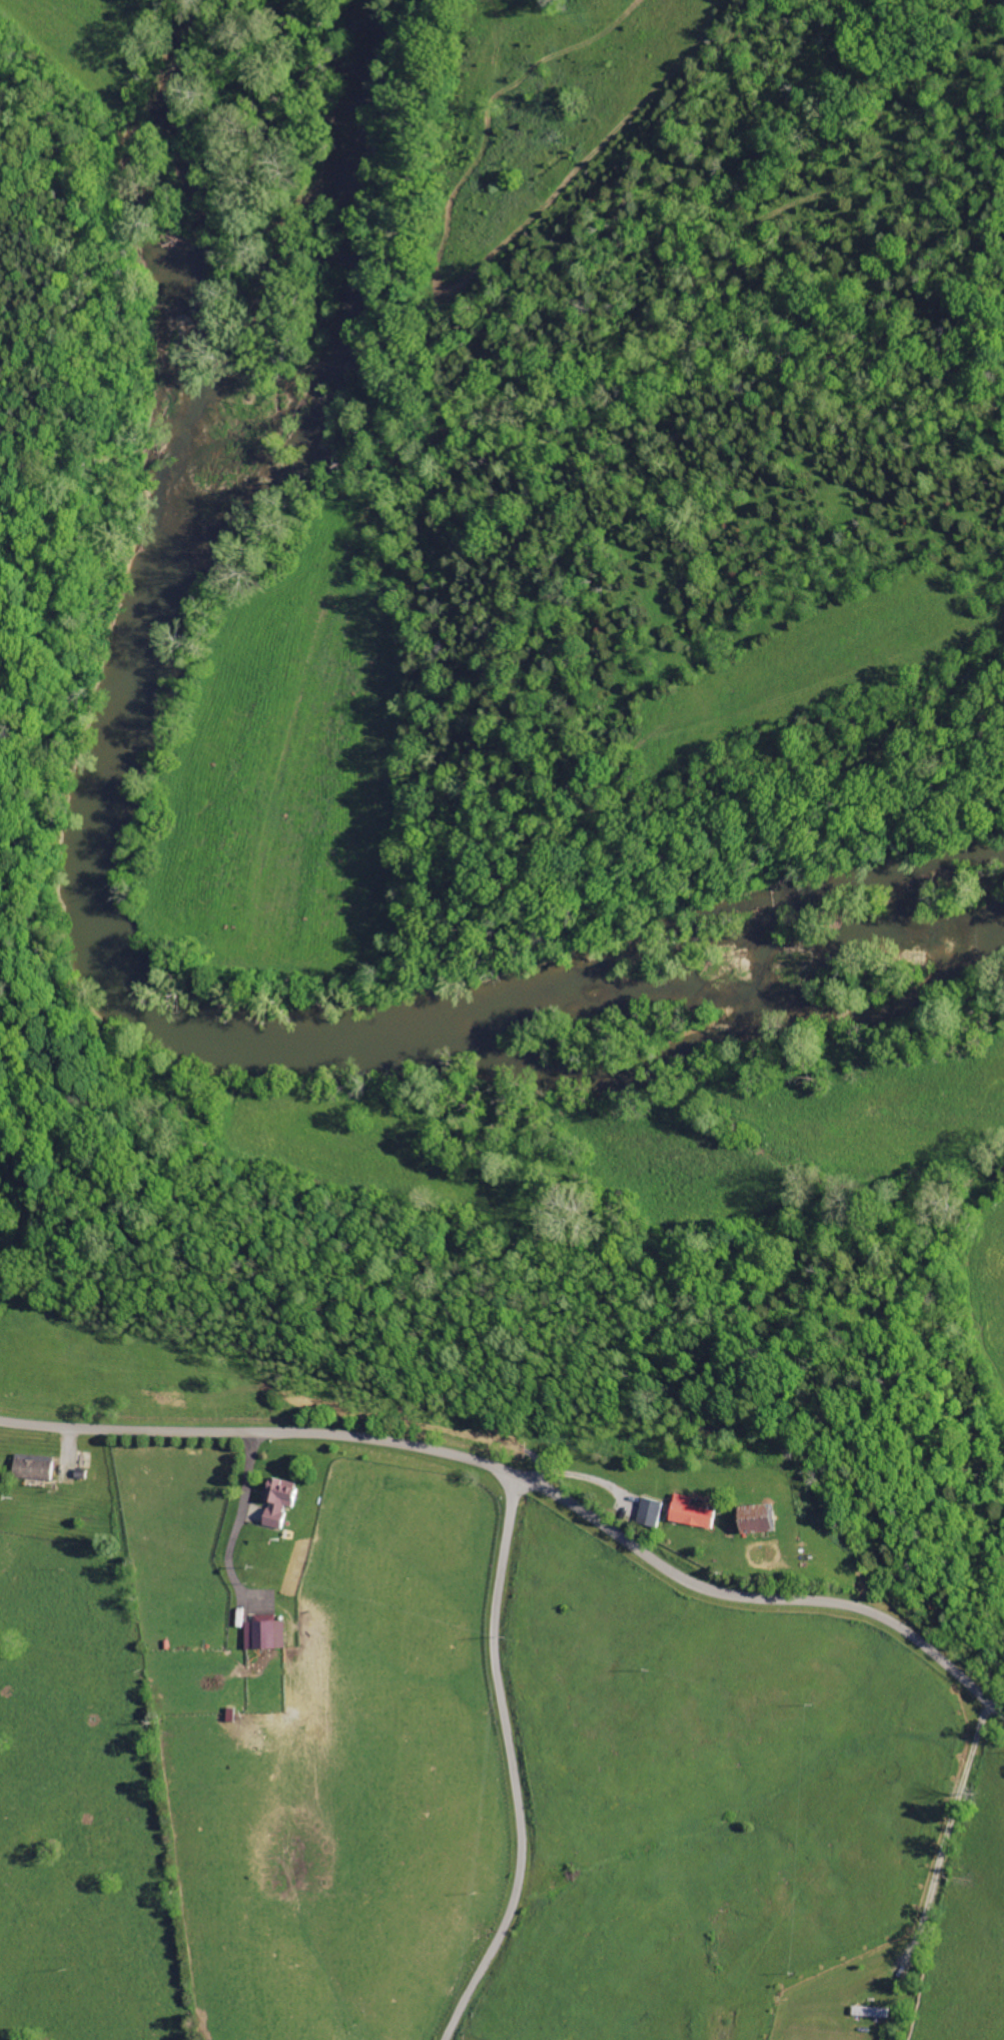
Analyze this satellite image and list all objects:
river: (94, 918)
road: (595, 1458)
building: (30, 1467)
road: (531, 1483)
building: (276, 1498)
building: (647, 1512)
building: (687, 1512)
building: (752, 1518)
building: (265, 1634)
road: (510, 1764)
road: (944, 1836)

